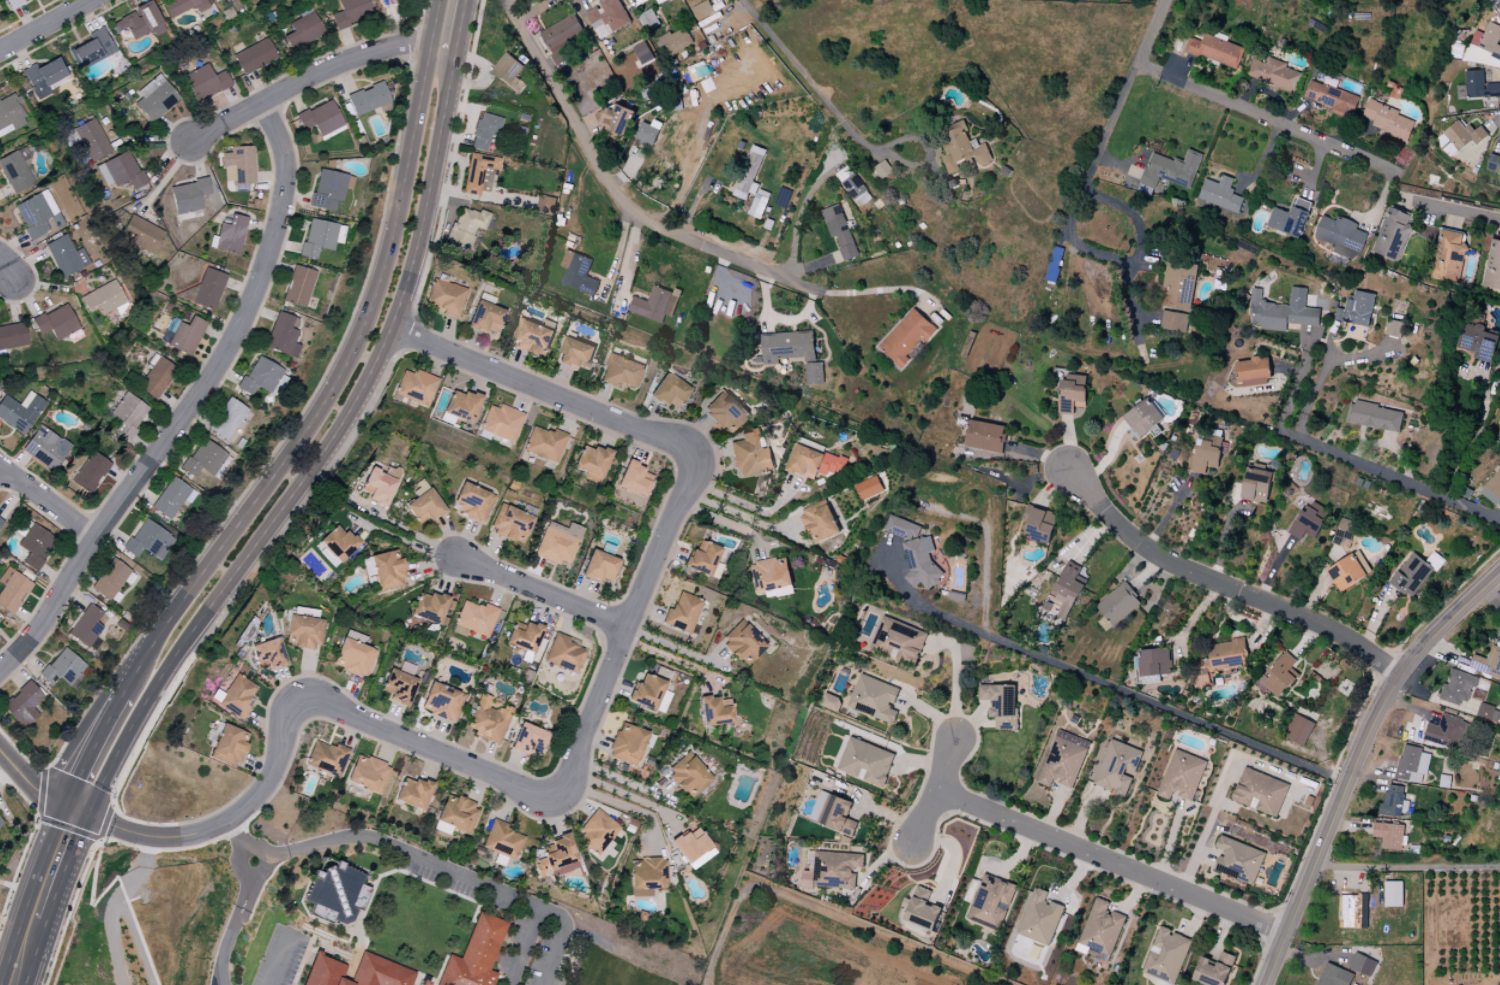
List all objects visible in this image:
building: (641, 2)
building: (14, 4)
building: (182, 6)
building: (702, 10)
building: (350, 12)
building: (611, 15)
building: (650, 21)
building: (139, 22)
road: (460, 23)
road: (47, 25)
building: (302, 32)
building: (563, 34)
building: (674, 41)
road: (410, 47)
building: (1490, 48)
building: (91, 49)
building: (1215, 50)
building: (642, 53)
building: (254, 57)
road: (406, 65)
building: (508, 71)
building: (1274, 74)
building: (43, 77)
road: (305, 79)
building: (205, 82)
road: (812, 83)
building: (1480, 85)
road: (1126, 86)
building: (1332, 98)
building: (155, 99)
building: (368, 99)
building: (320, 119)
building: (616, 119)
building: (1387, 120)
road: (1283, 126)
building: (484, 131)
building: (648, 132)
building: (1464, 136)
building: (92, 140)
building: (961, 147)
building: (1495, 161)
building: (238, 166)
building: (883, 169)
building: (17, 170)
building: (1170, 170)
building: (121, 171)
building: (749, 173)
building: (853, 186)
building: (329, 189)
building: (1221, 194)
road: (618, 195)
building: (188, 196)
building: (545, 205)
building: (758, 206)
road: (1458, 211)
road: (797, 214)
building: (1290, 218)
building: (466, 227)
building: (839, 231)
building: (141, 234)
building: (1392, 234)
building: (229, 236)
building: (319, 238)
road: (622, 256)
building: (1450, 256)
building: (66, 257)
road: (1117, 262)
building: (1492, 266)
road: (6, 268)
building: (578, 273)
building: (1179, 284)
building: (298, 287)
building: (209, 289)
road: (878, 292)
building: (445, 297)
building: (102, 299)
building: (654, 304)
building: (1356, 310)
building: (1282, 311)
building: (485, 318)
building: (1175, 321)
building: (56, 323)
building: (1393, 328)
building: (183, 335)
building: (282, 335)
building: (12, 336)
building: (906, 337)
building: (532, 338)
building: (1477, 341)
building: (793, 353)
building: (576, 354)
road: (342, 371)
building: (621, 371)
building: (1253, 371)
building: (156, 377)
building: (259, 377)
road: (1318, 382)
road: (541, 384)
building: (416, 387)
building: (669, 391)
building: (1071, 393)
road: (192, 403)
building: (460, 407)
building: (726, 411)
building: (20, 412)
building: (128, 413)
building: (1374, 416)
building: (227, 419)
building: (1144, 419)
building: (502, 423)
building: (1499, 435)
building: (985, 436)
building: (545, 444)
building: (45, 448)
road: (320, 455)
building: (750, 455)
building: (1207, 455)
building: (203, 459)
building: (592, 461)
building: (814, 463)
building: (391, 472)
building: (90, 473)
road: (1392, 474)
building: (634, 479)
building: (1256, 485)
building: (377, 488)
building: (868, 488)
building: (1493, 488)
building: (171, 498)
building: (472, 502)
road: (48, 505)
road: (731, 512)
building: (1308, 521)
building: (0, 522)
building: (820, 522)
building: (511, 524)
building: (1039, 524)
building: (1343, 531)
road: (402, 540)
building: (148, 541)
building: (337, 543)
building: (558, 543)
building: (36, 546)
building: (915, 553)
building: (704, 559)
building: (599, 567)
building: (387, 571)
building: (1347, 573)
building: (771, 575)
building: (1412, 575)
building: (110, 580)
road: (1223, 584)
building: (1067, 589)
building: (12, 590)
road: (541, 592)
building: (1118, 604)
building: (429, 608)
building: (682, 613)
building: (474, 620)
road: (630, 621)
building: (86, 627)
building: (305, 632)
building: (1499, 635)
building: (525, 637)
building: (1499, 637)
building: (898, 640)
building: (742, 643)
road: (633, 644)
building: (564, 653)
building: (353, 654)
building: (268, 655)
road: (672, 658)
building: (1223, 659)
building: (1154, 663)
building: (1488, 664)
building: (62, 668)
building: (1279, 676)
road: (1108, 684)
building: (399, 688)
building: (1458, 688)
building: (650, 693)
building: (874, 699)
building: (442, 702)
building: (831, 702)
building: (1000, 704)
building: (22, 705)
building: (714, 712)
building: (488, 720)
building: (1299, 730)
building: (1448, 732)
building: (527, 739)
road: (82, 743)
building: (627, 744)
building: (229, 746)
road: (430, 746)
road: (1345, 748)
building: (327, 759)
building: (1064, 759)
building: (865, 761)
road: (1355, 761)
building: (1414, 764)
building: (1117, 767)
building: (368, 774)
building: (688, 776)
building: (1181, 776)
road: (620, 780)
road: (32, 783)
road: (923, 786)
road: (936, 792)
building: (413, 793)
road: (623, 793)
building: (1261, 793)
building: (1393, 802)
road: (620, 804)
building: (833, 815)
building: (455, 816)
building: (1, 822)
road: (219, 828)
building: (597, 832)
building: (1390, 835)
road: (234, 841)
building: (502, 841)
building: (691, 845)
building: (557, 857)
building: (1239, 859)
road: (1111, 861)
road: (434, 862)
road: (1406, 867)
building: (833, 870)
building: (647, 876)
building: (335, 894)
building: (1393, 894)
road: (40, 897)
building: (991, 902)
building: (921, 910)
building: (1354, 911)
road: (823, 913)
building: (1039, 918)
road: (236, 920)
building: (1100, 931)
road: (560, 937)
building: (474, 955)
building: (1167, 956)
road: (279, 958)
building: (1362, 964)
building: (1339, 966)
building: (356, 972)
building: (1211, 973)
building: (1498, 984)

